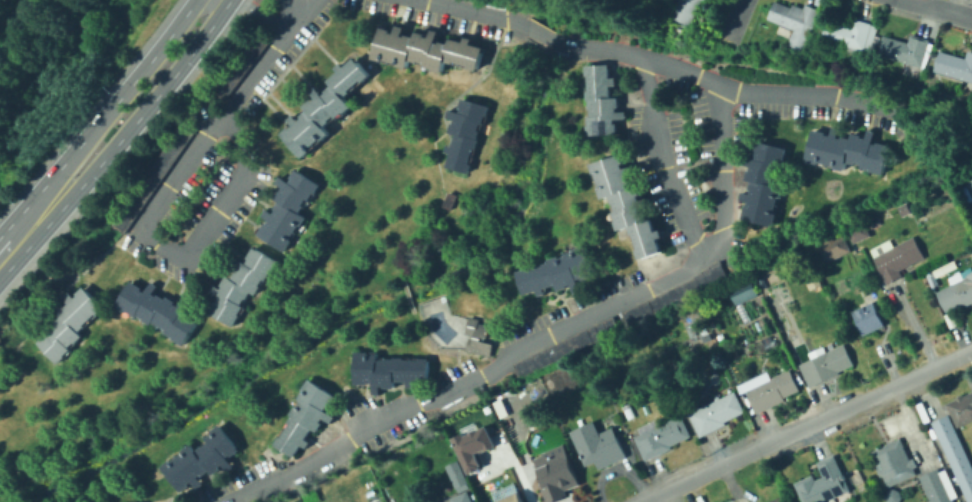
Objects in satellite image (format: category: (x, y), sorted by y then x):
road: (303, 2)
road: (308, 2)
road: (940, 9)
building: (687, 10)
road: (262, 16)
road: (737, 18)
building: (795, 21)
building: (818, 29)
building: (850, 36)
road: (569, 42)
building: (428, 49)
building: (905, 49)
building: (956, 66)
road: (121, 91)
road: (815, 95)
building: (603, 102)
road: (90, 106)
road: (145, 106)
building: (326, 109)
road: (221, 119)
building: (467, 135)
building: (849, 151)
road: (661, 158)
building: (969, 181)
building: (765, 185)
building: (452, 201)
building: (630, 205)
building: (904, 206)
building: (289, 210)
road: (219, 214)
building: (875, 222)
road: (26, 223)
building: (860, 234)
building: (832, 248)
building: (971, 248)
building: (896, 257)
building: (561, 274)
building: (243, 286)
building: (681, 292)
building: (745, 292)
building: (957, 292)
building: (160, 312)
building: (868, 319)
building: (72, 324)
building: (797, 334)
building: (481, 338)
road: (544, 340)
building: (569, 348)
building: (826, 364)
building: (391, 372)
building: (770, 389)
building: (961, 409)
building: (629, 411)
building: (716, 413)
building: (308, 418)
road: (808, 426)
building: (661, 436)
building: (474, 445)
building: (598, 445)
building: (955, 454)
building: (205, 461)
building: (894, 463)
building: (557, 473)
building: (457, 474)
road: (519, 479)
building: (824, 483)
building: (936, 487)
building: (894, 496)
building: (462, 498)
building: (513, 498)
building: (777, 500)

